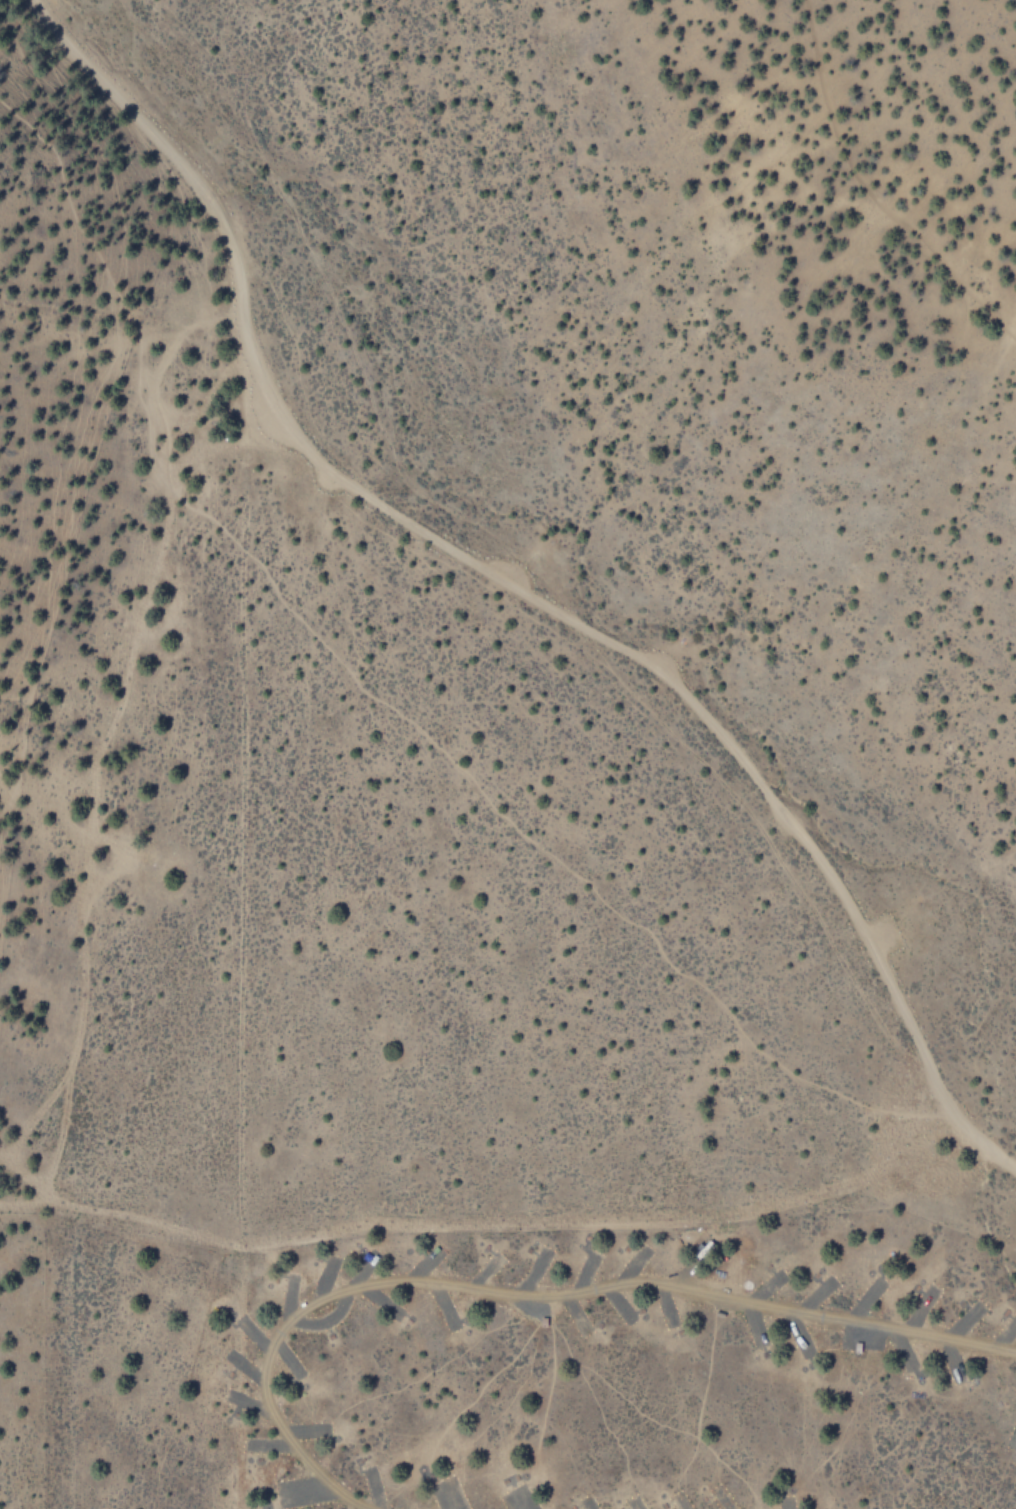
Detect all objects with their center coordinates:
road: (874, 189)
road: (479, 565)
road: (377, 698)
road: (982, 1146)
road: (530, 1295)
building: (542, 1321)

